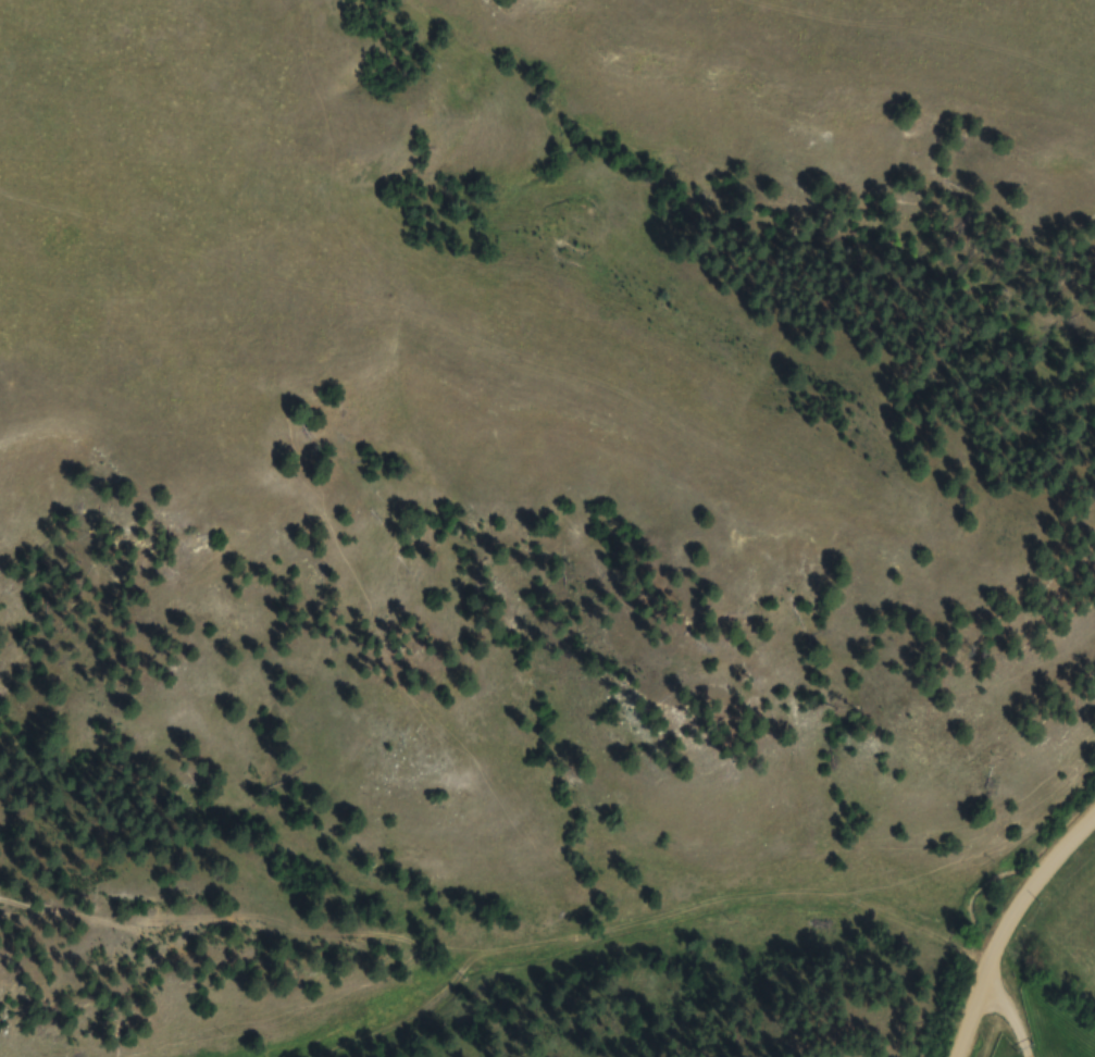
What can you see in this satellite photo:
road: (1005, 931)

